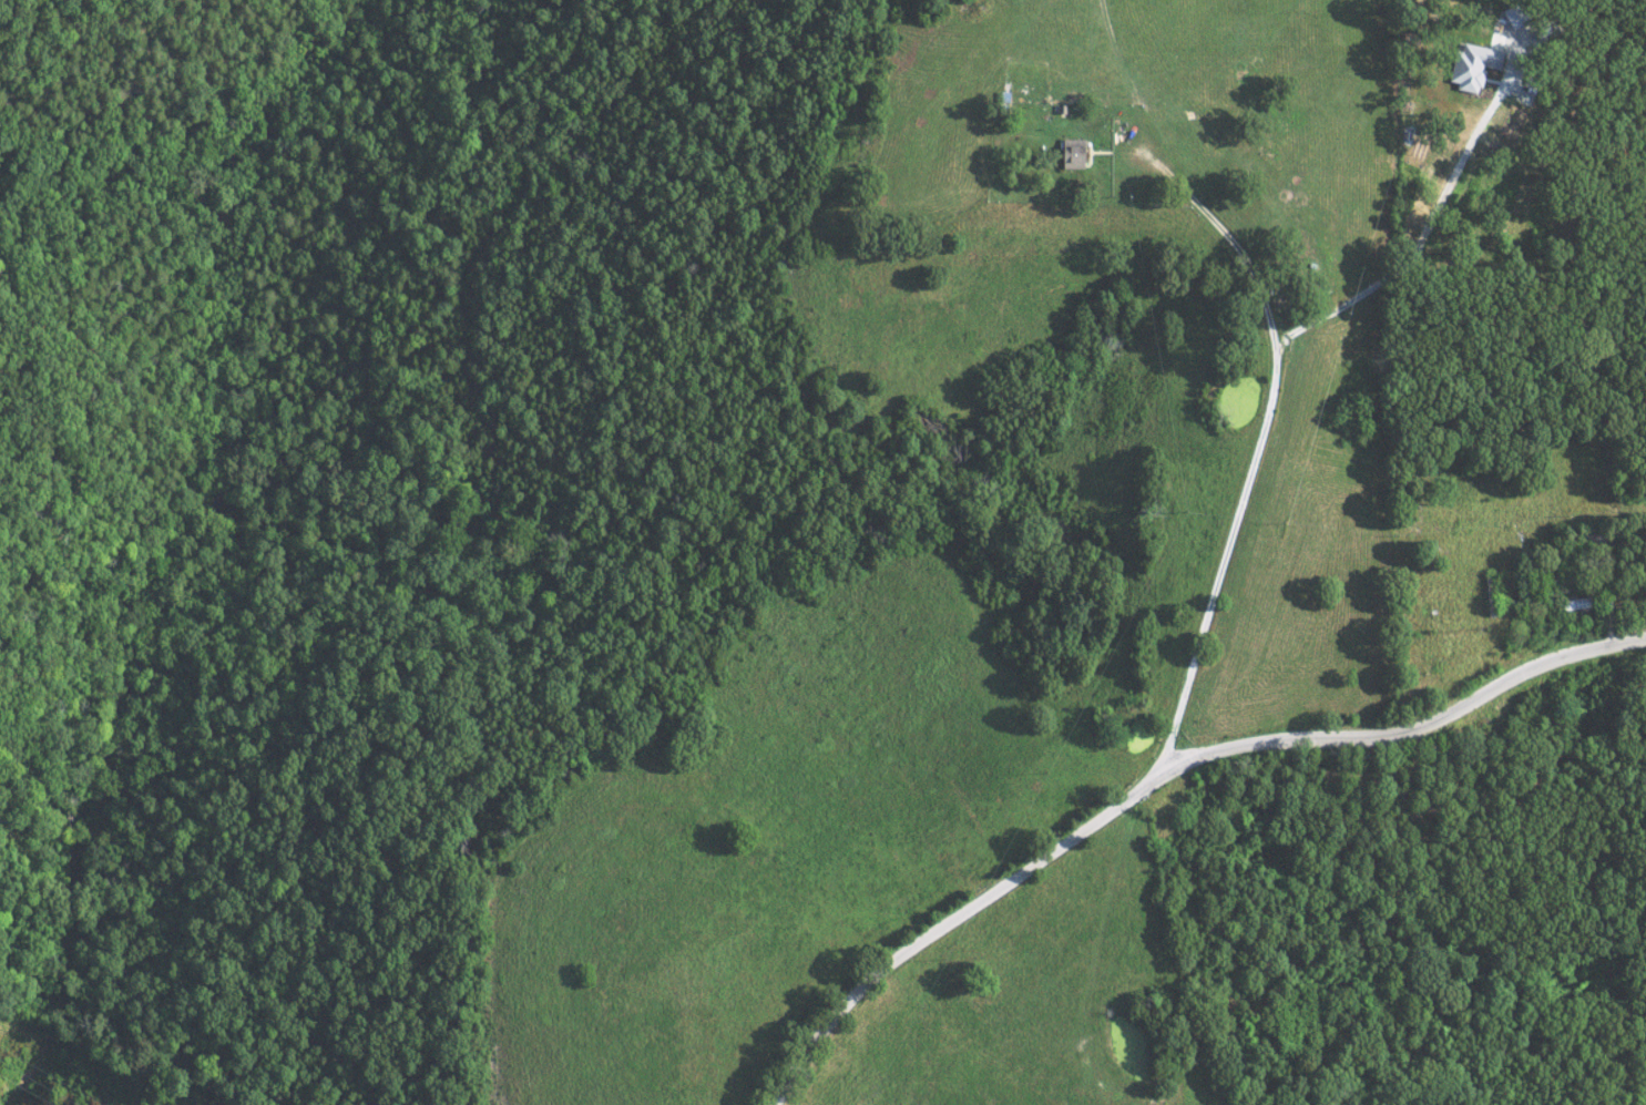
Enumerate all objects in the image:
building: (1468, 64)
building: (1066, 156)
road: (1159, 779)

